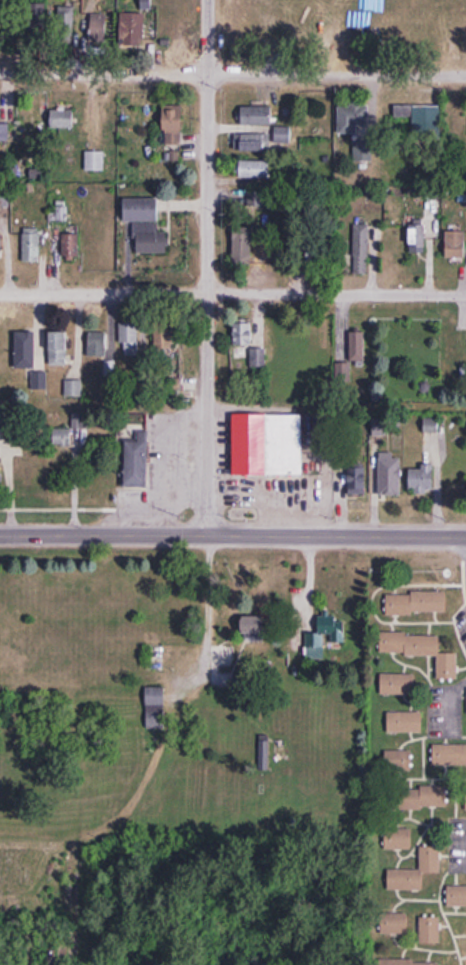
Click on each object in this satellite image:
building: (145, 3)
building: (39, 15)
building: (64, 21)
building: (99, 28)
building: (131, 29)
road: (232, 73)
building: (256, 115)
building: (351, 117)
building: (61, 119)
building: (422, 121)
building: (172, 124)
building: (4, 132)
building: (282, 135)
building: (255, 143)
building: (94, 161)
building: (253, 169)
building: (257, 200)
building: (140, 210)
building: (149, 239)
building: (416, 239)
building: (243, 243)
building: (455, 244)
building: (30, 245)
building: (0, 246)
building: (70, 247)
building: (360, 249)
building: (318, 254)
road: (207, 265)
road: (233, 292)
building: (242, 332)
building: (129, 339)
building: (166, 340)
building: (97, 345)
building: (356, 347)
building: (58, 348)
building: (27, 351)
building: (257, 361)
building: (38, 381)
building: (172, 385)
building: (61, 438)
building: (265, 443)
building: (427, 458)
building: (134, 462)
building: (389, 475)
building: (357, 480)
road: (232, 532)
road: (454, 578)
building: (415, 602)
road: (205, 605)
building: (251, 628)
building: (315, 639)
building: (420, 650)
road: (434, 682)
building: (397, 684)
building: (154, 707)
building: (404, 721)
building: (449, 755)
building: (397, 761)
building: (417, 797)
building: (465, 797)
road: (451, 834)
building: (397, 838)
building: (415, 870)
building: (456, 894)
building: (393, 923)
building: (429, 929)
building: (408, 962)

